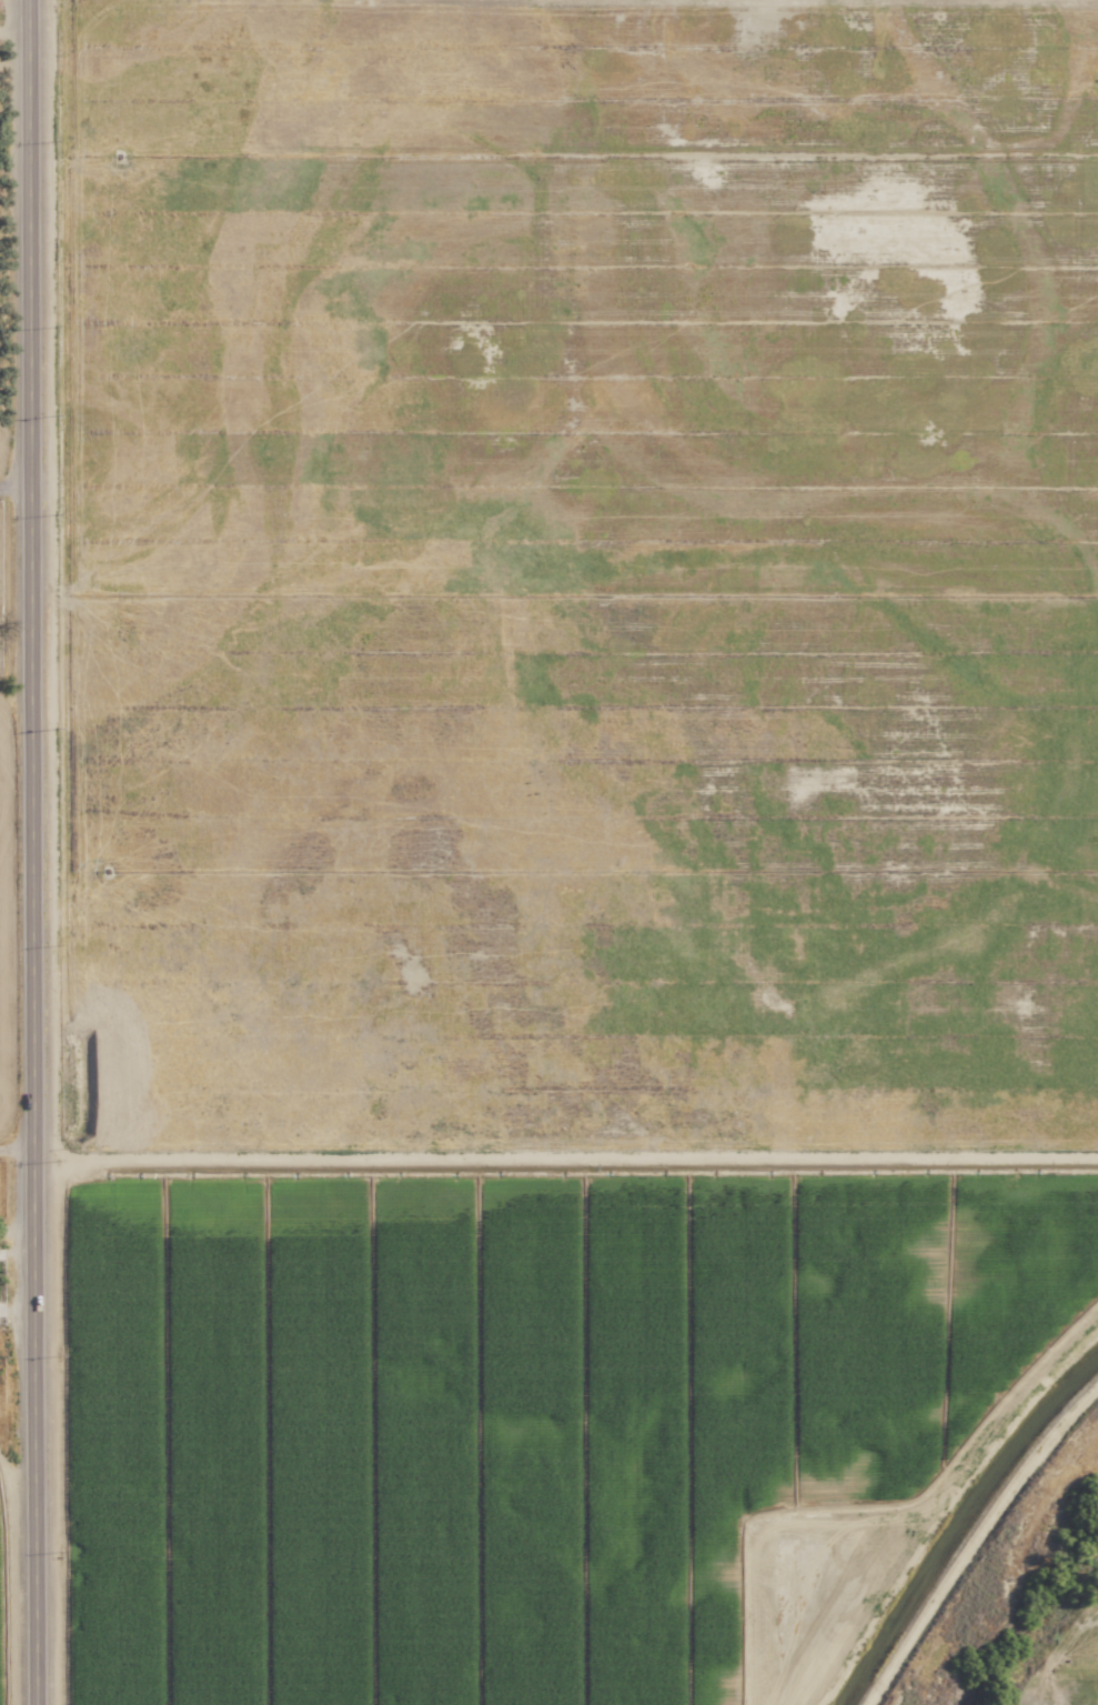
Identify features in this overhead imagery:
road: (13, 37)
road: (13, 63)
road: (13, 482)
road: (29, 852)
road: (16, 1152)

